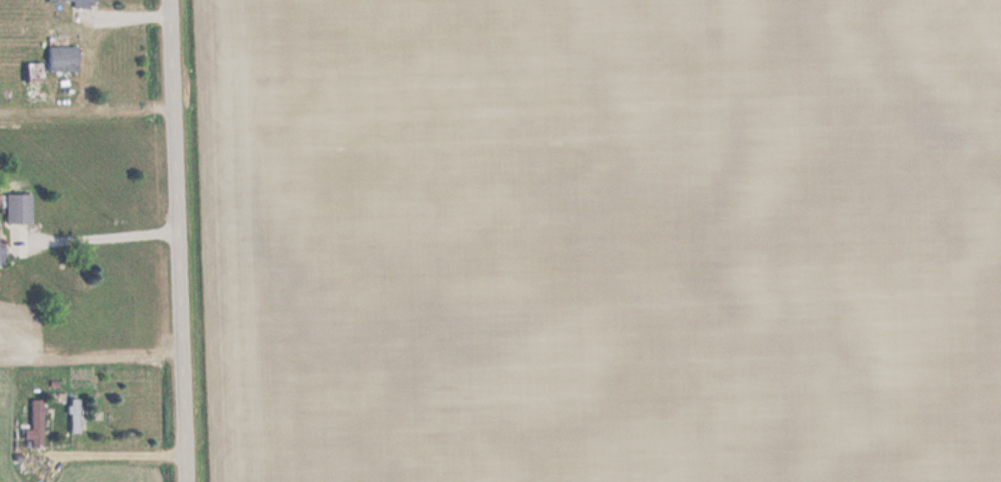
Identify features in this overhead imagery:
building: (86, 2)
building: (64, 58)
building: (35, 80)
building: (19, 208)
road: (176, 241)
building: (77, 414)
building: (37, 422)

